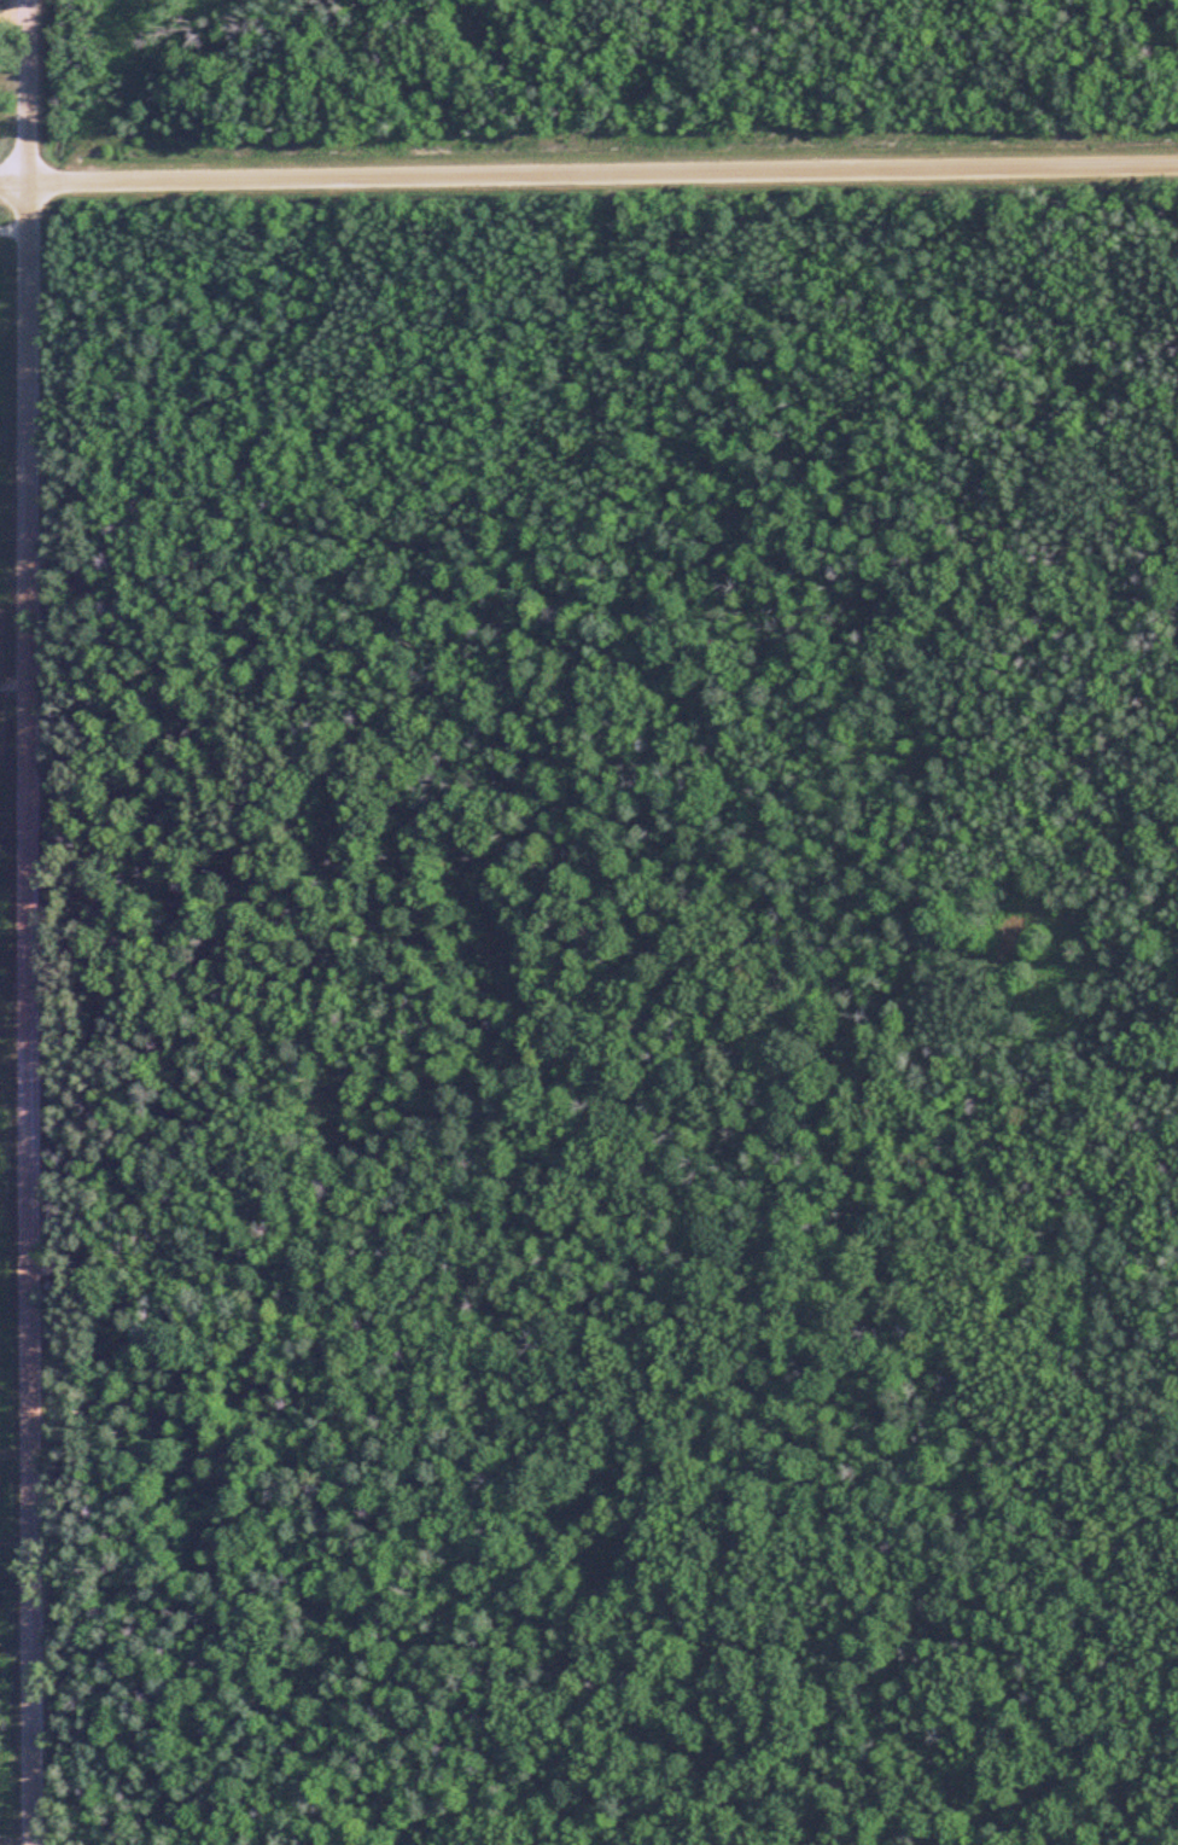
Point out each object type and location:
road: (589, 175)
road: (14, 231)
road: (14, 686)
road: (30, 921)

